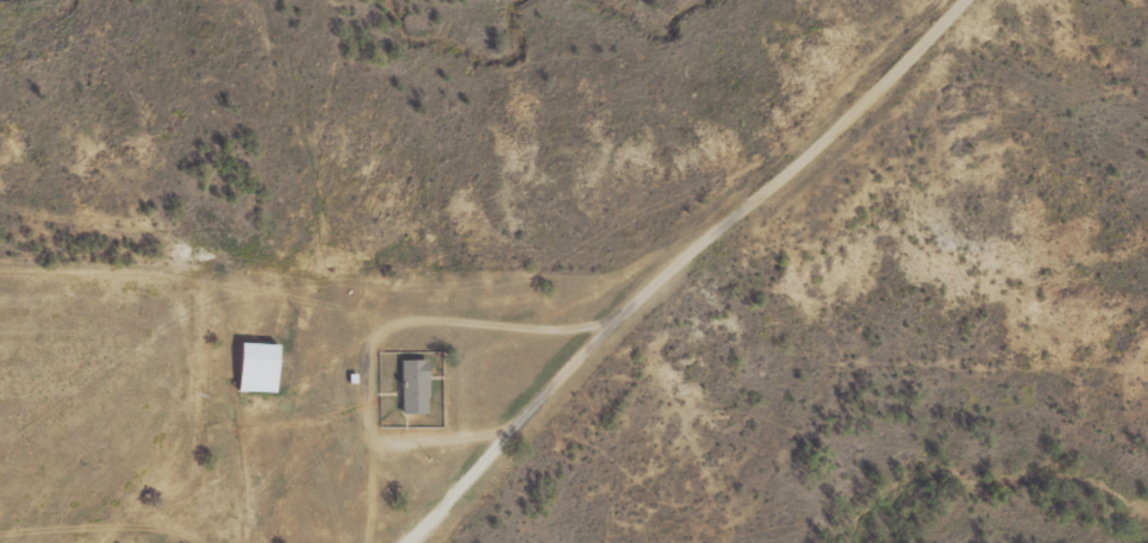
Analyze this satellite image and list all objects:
road: (850, 124)
building: (261, 369)
road: (574, 380)
building: (417, 388)

